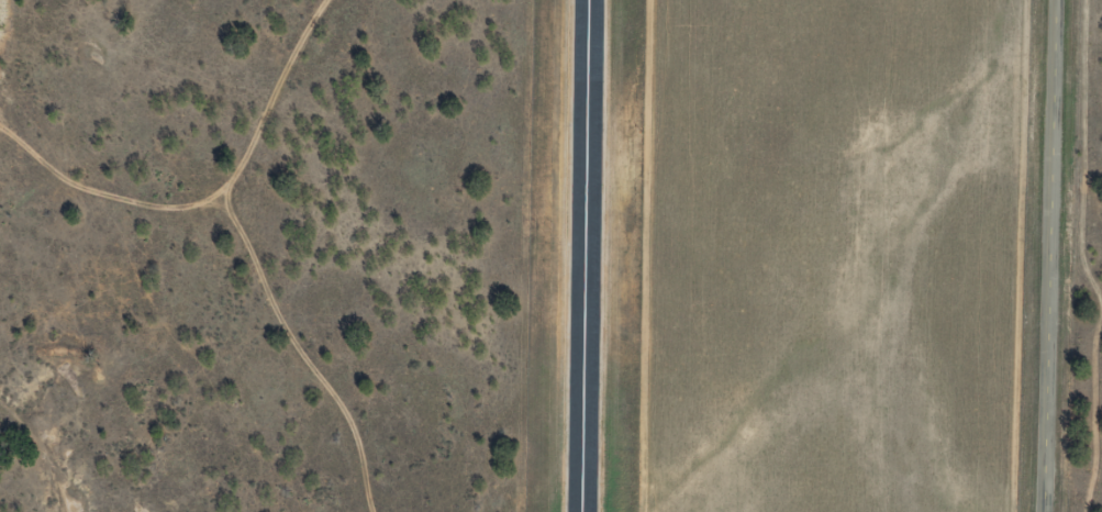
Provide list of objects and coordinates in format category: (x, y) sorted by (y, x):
road: (1049, 256)
road: (244, 264)

